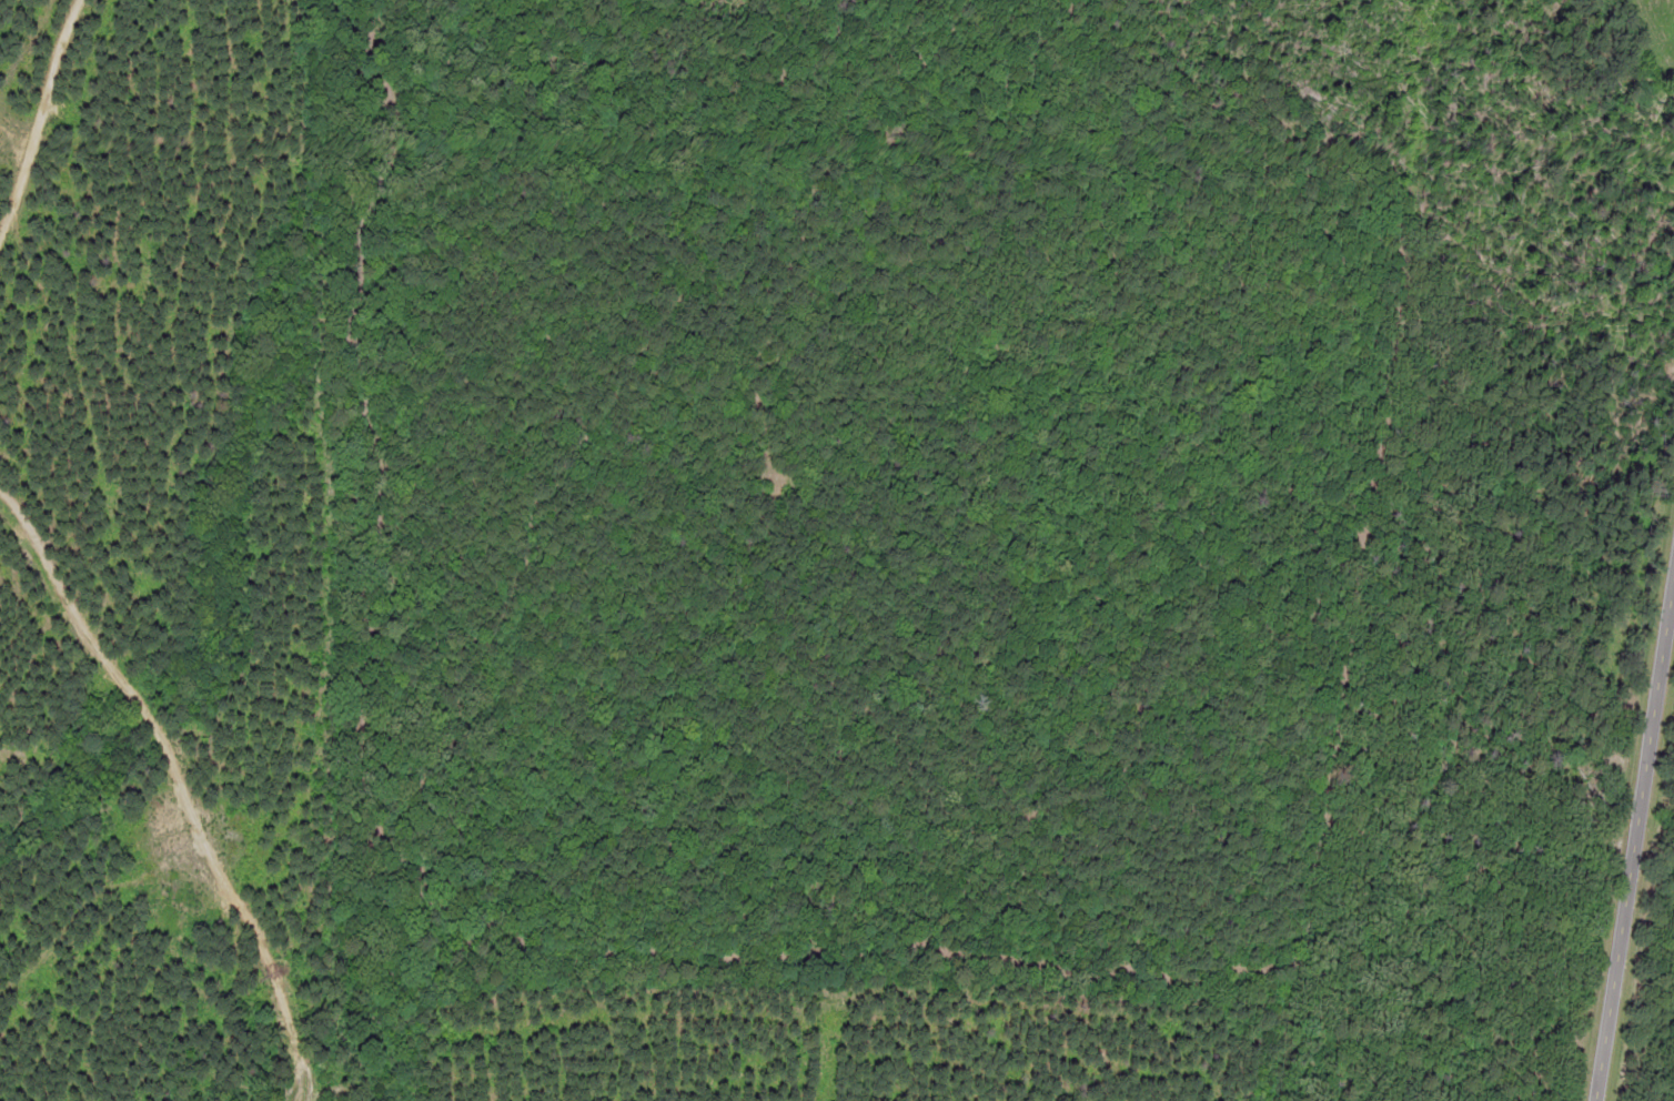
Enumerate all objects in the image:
road: (1634, 834)

